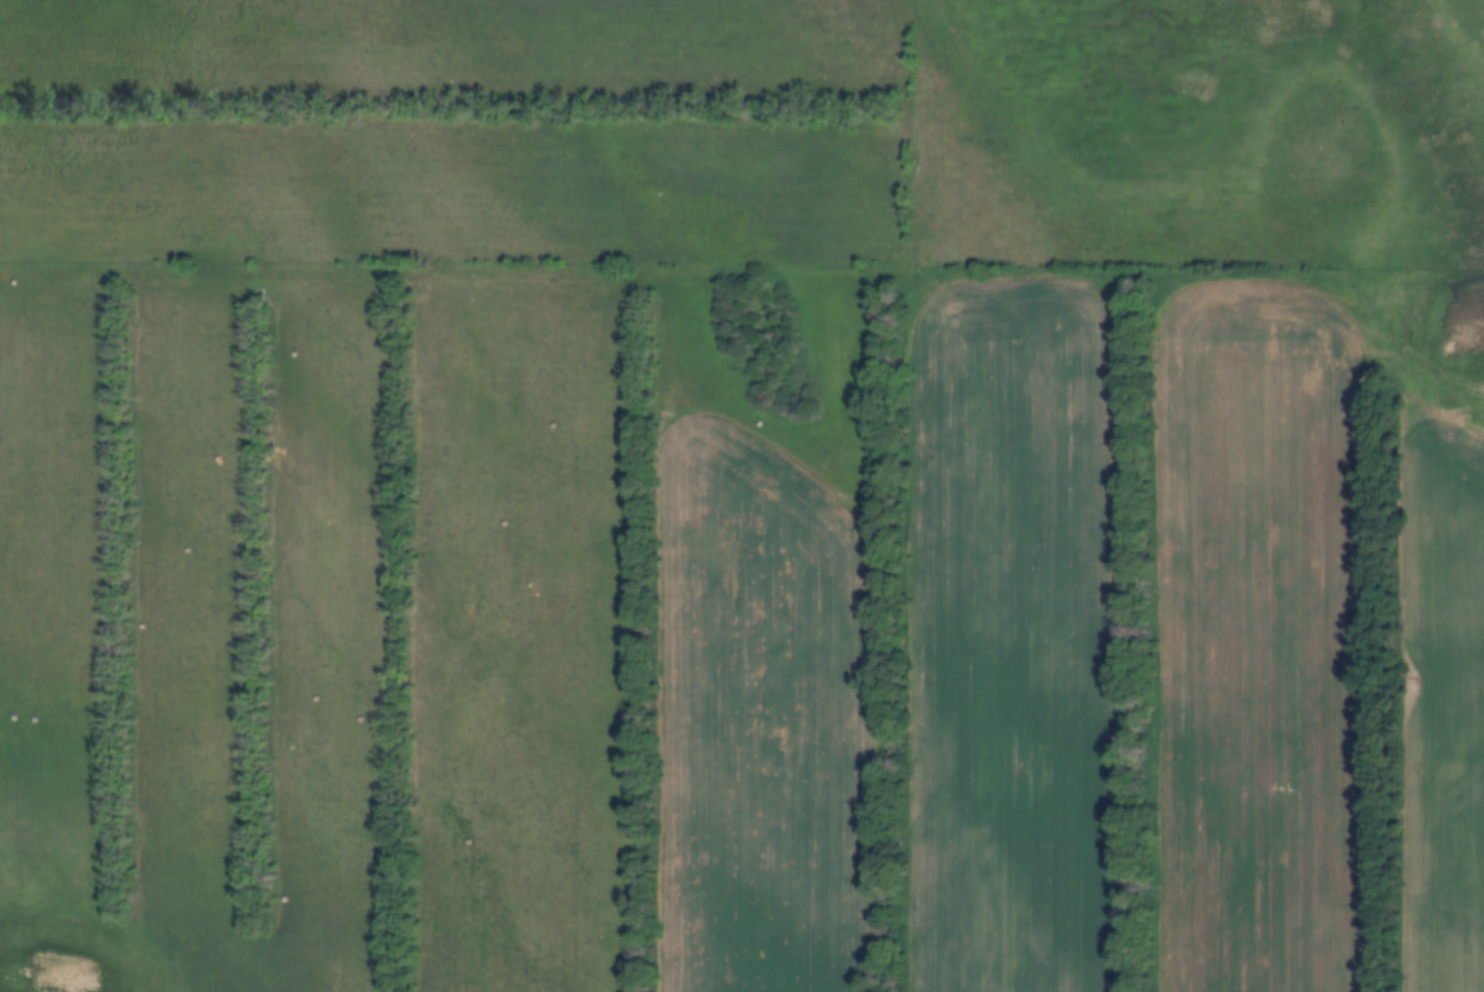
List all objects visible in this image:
road: (741, 274)

